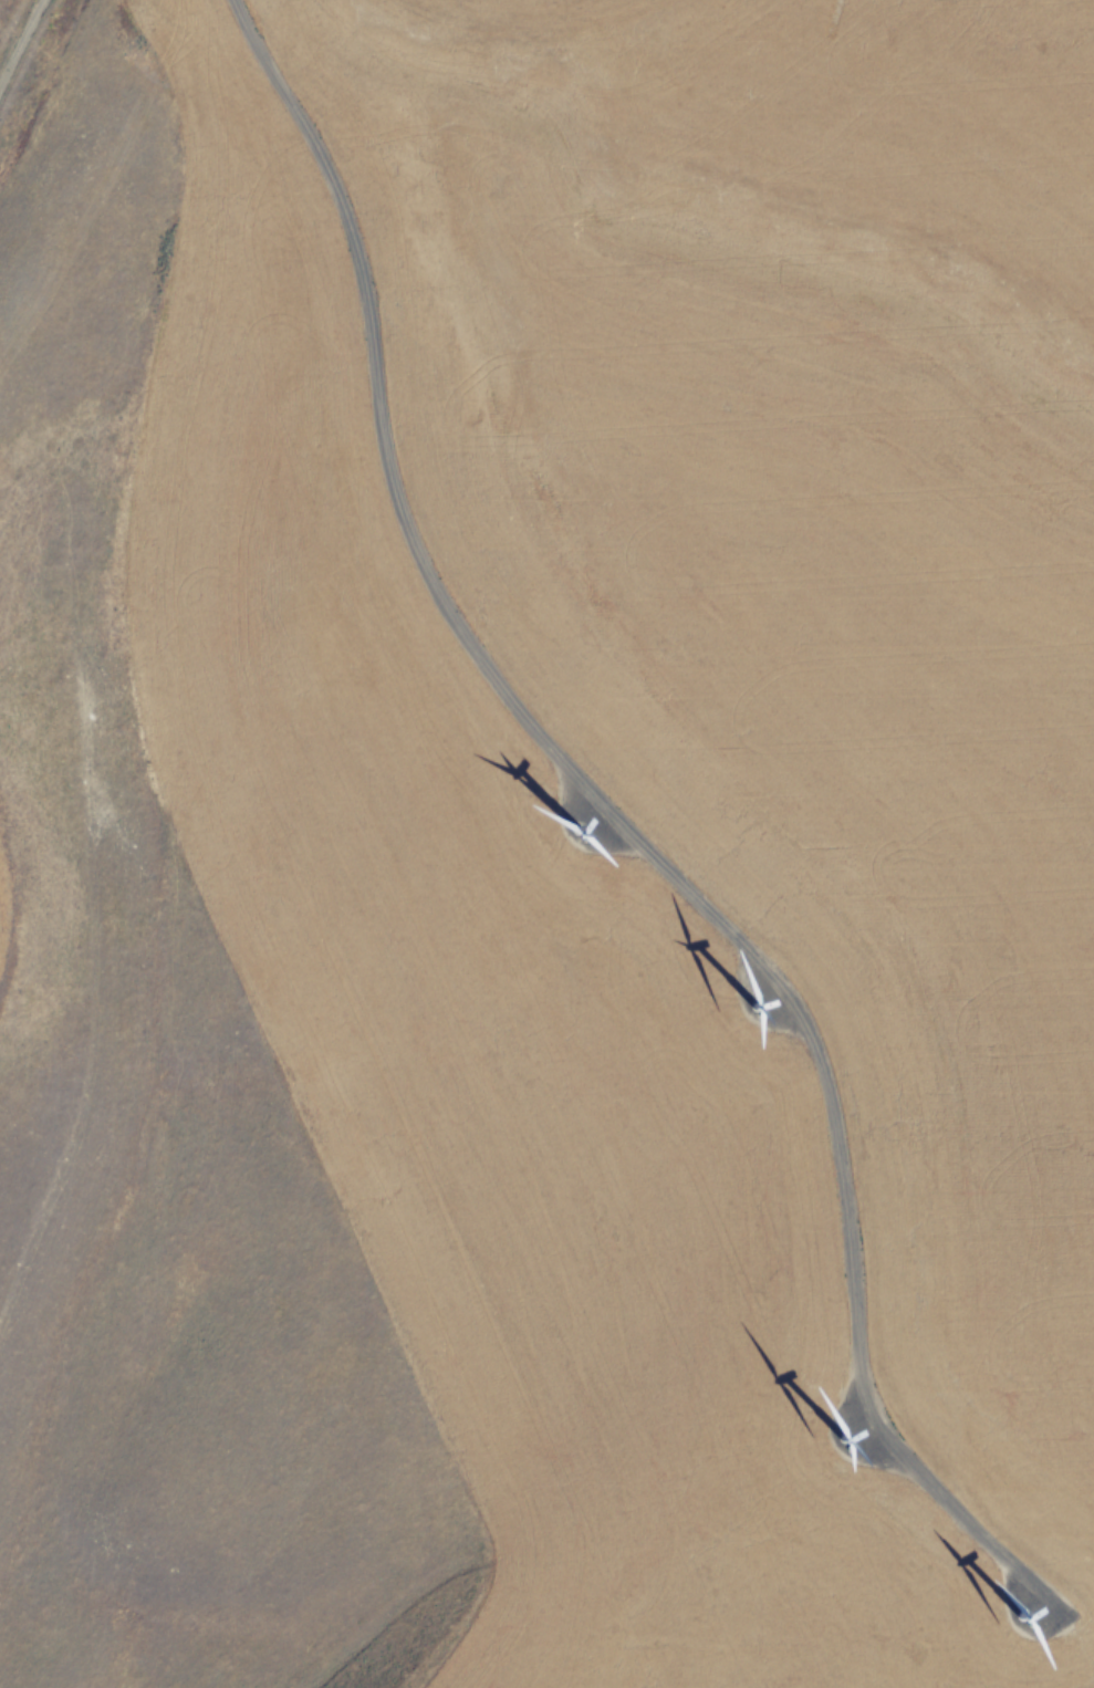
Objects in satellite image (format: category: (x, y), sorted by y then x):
road: (18, 34)
wind turbine: (581, 824)
road: (631, 834)
wind turbine: (739, 1000)
wind turbine: (848, 1428)
wind turbine: (1021, 1607)

